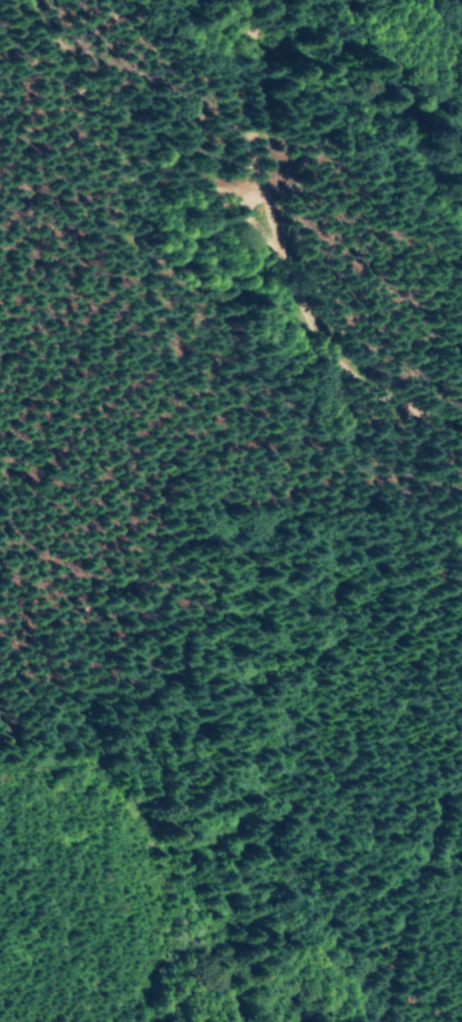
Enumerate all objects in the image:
road: (300, 234)
road: (399, 884)

